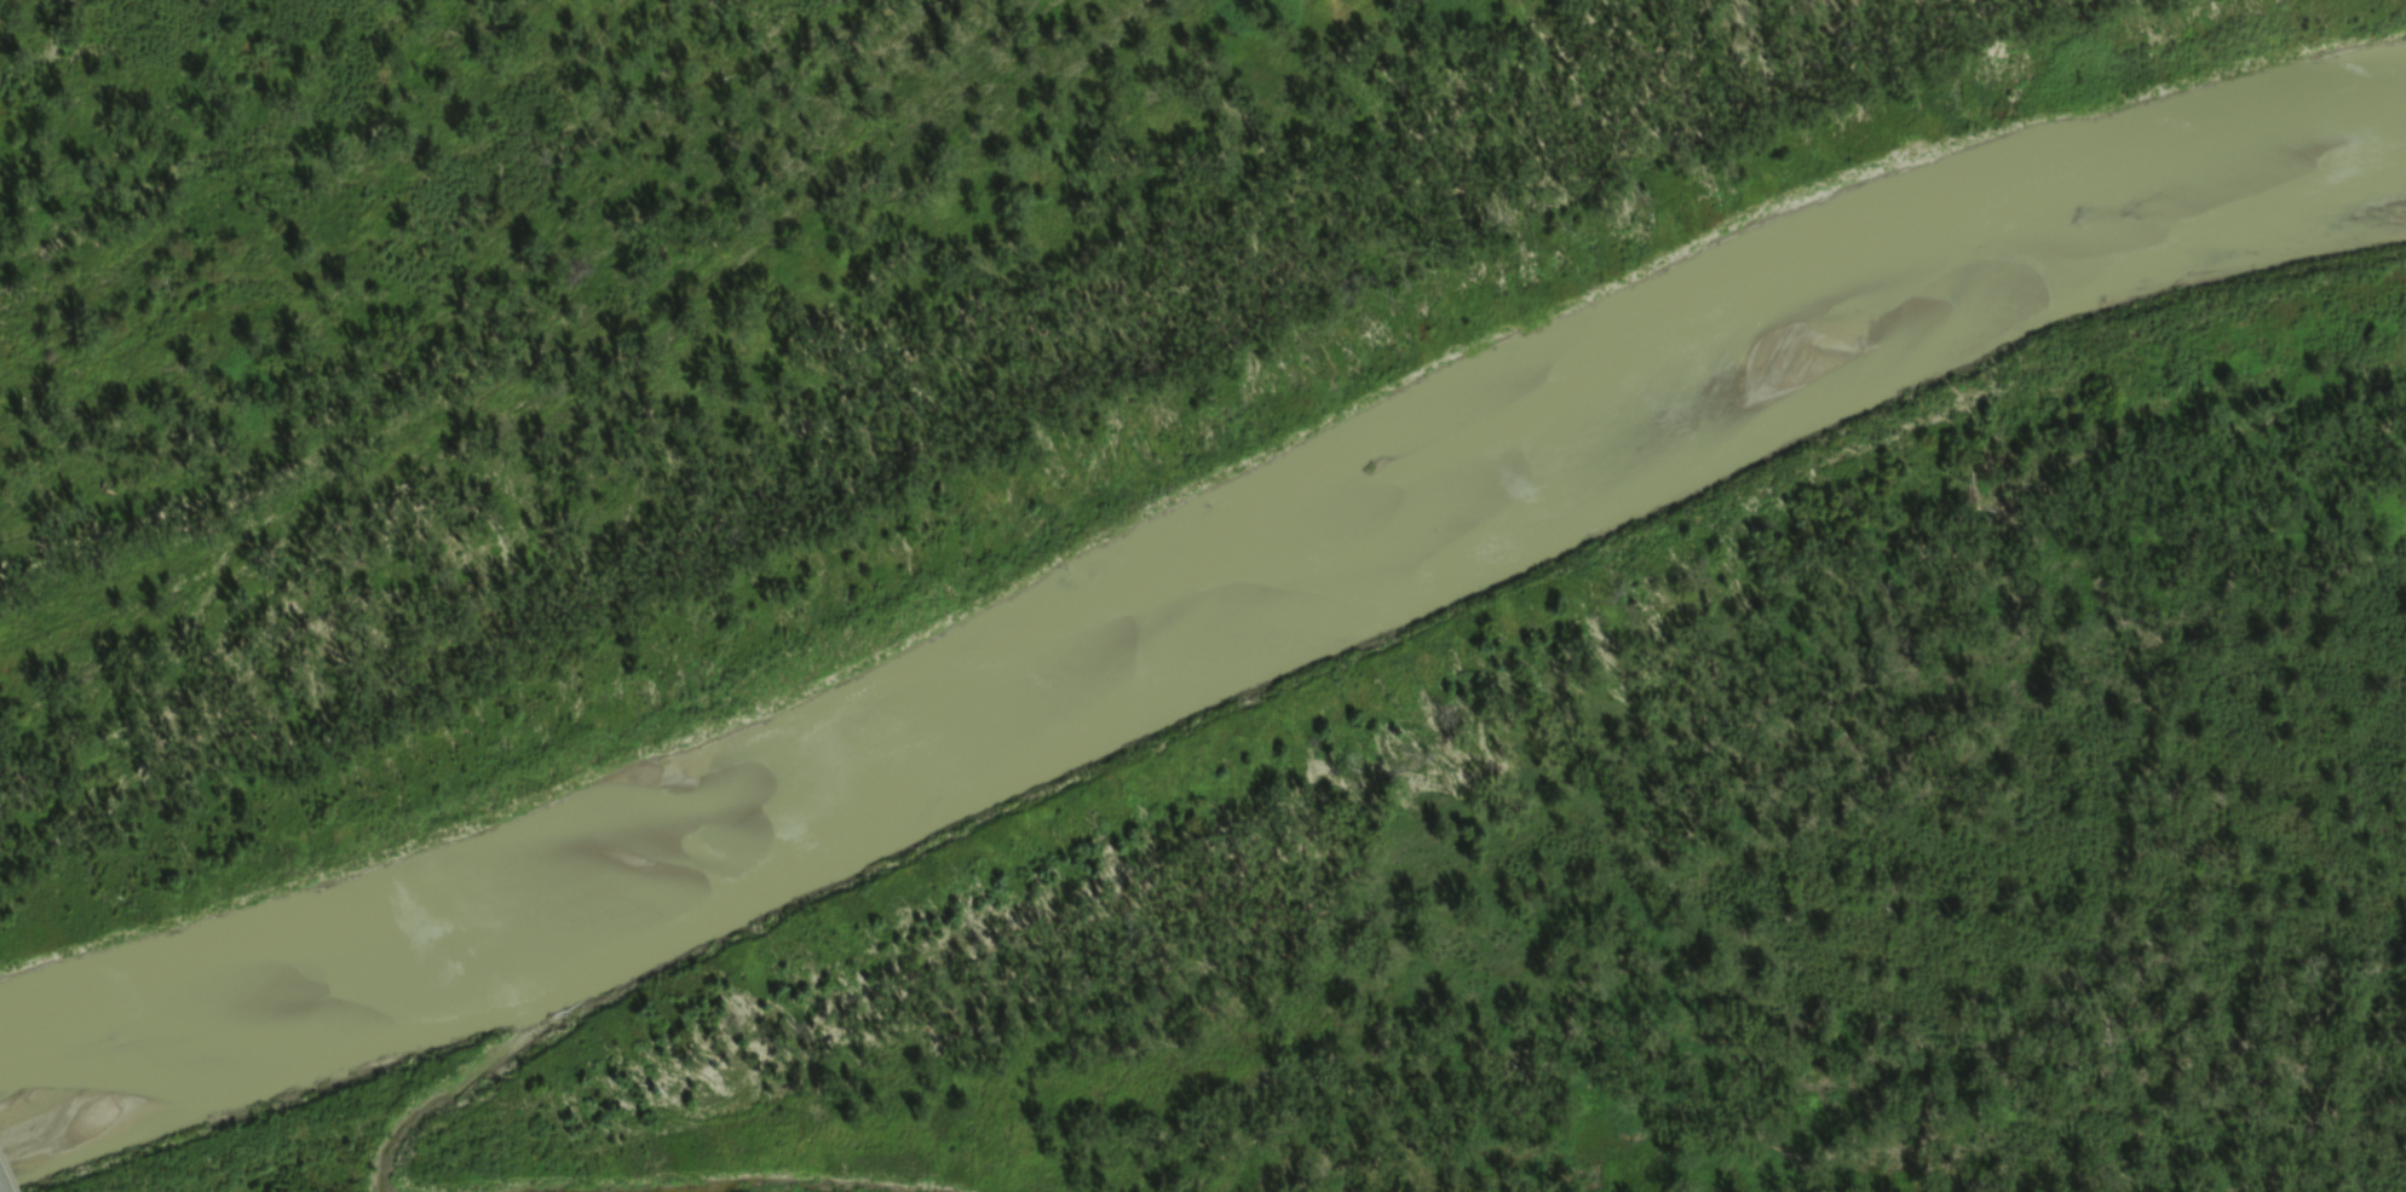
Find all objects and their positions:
river: (1201, 604)
river: (489, 1073)

